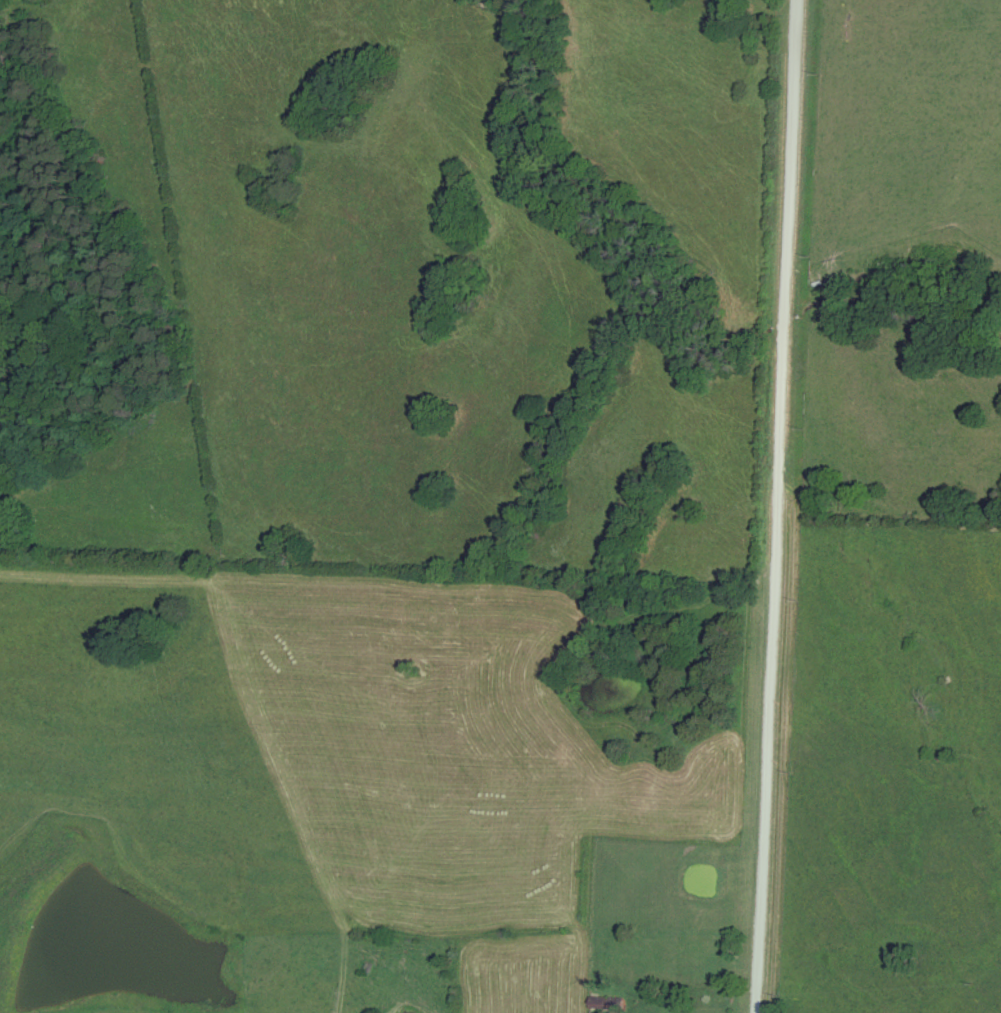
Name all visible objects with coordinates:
road: (779, 506)

